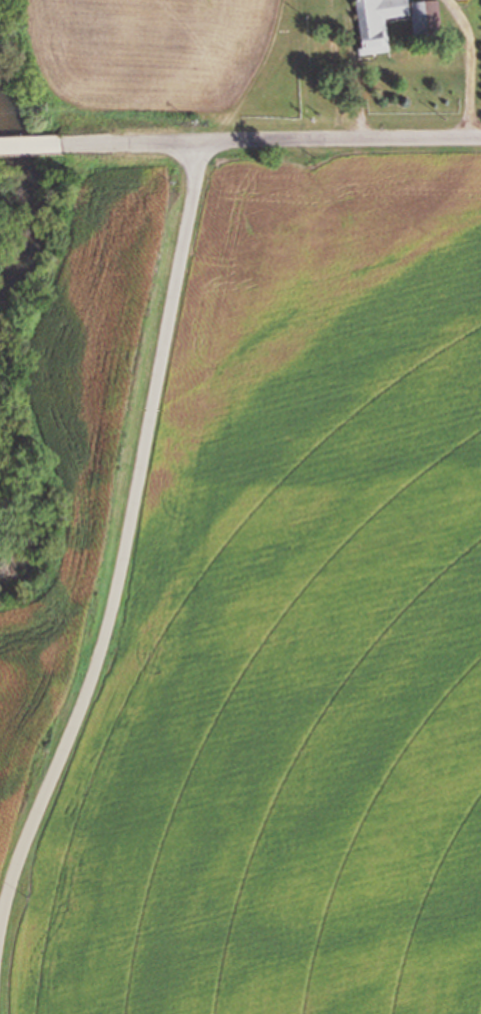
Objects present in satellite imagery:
building: (425, 18)
building: (375, 22)
road: (475, 65)
road: (272, 140)
road: (32, 144)
road: (126, 545)
crop: (295, 629)

